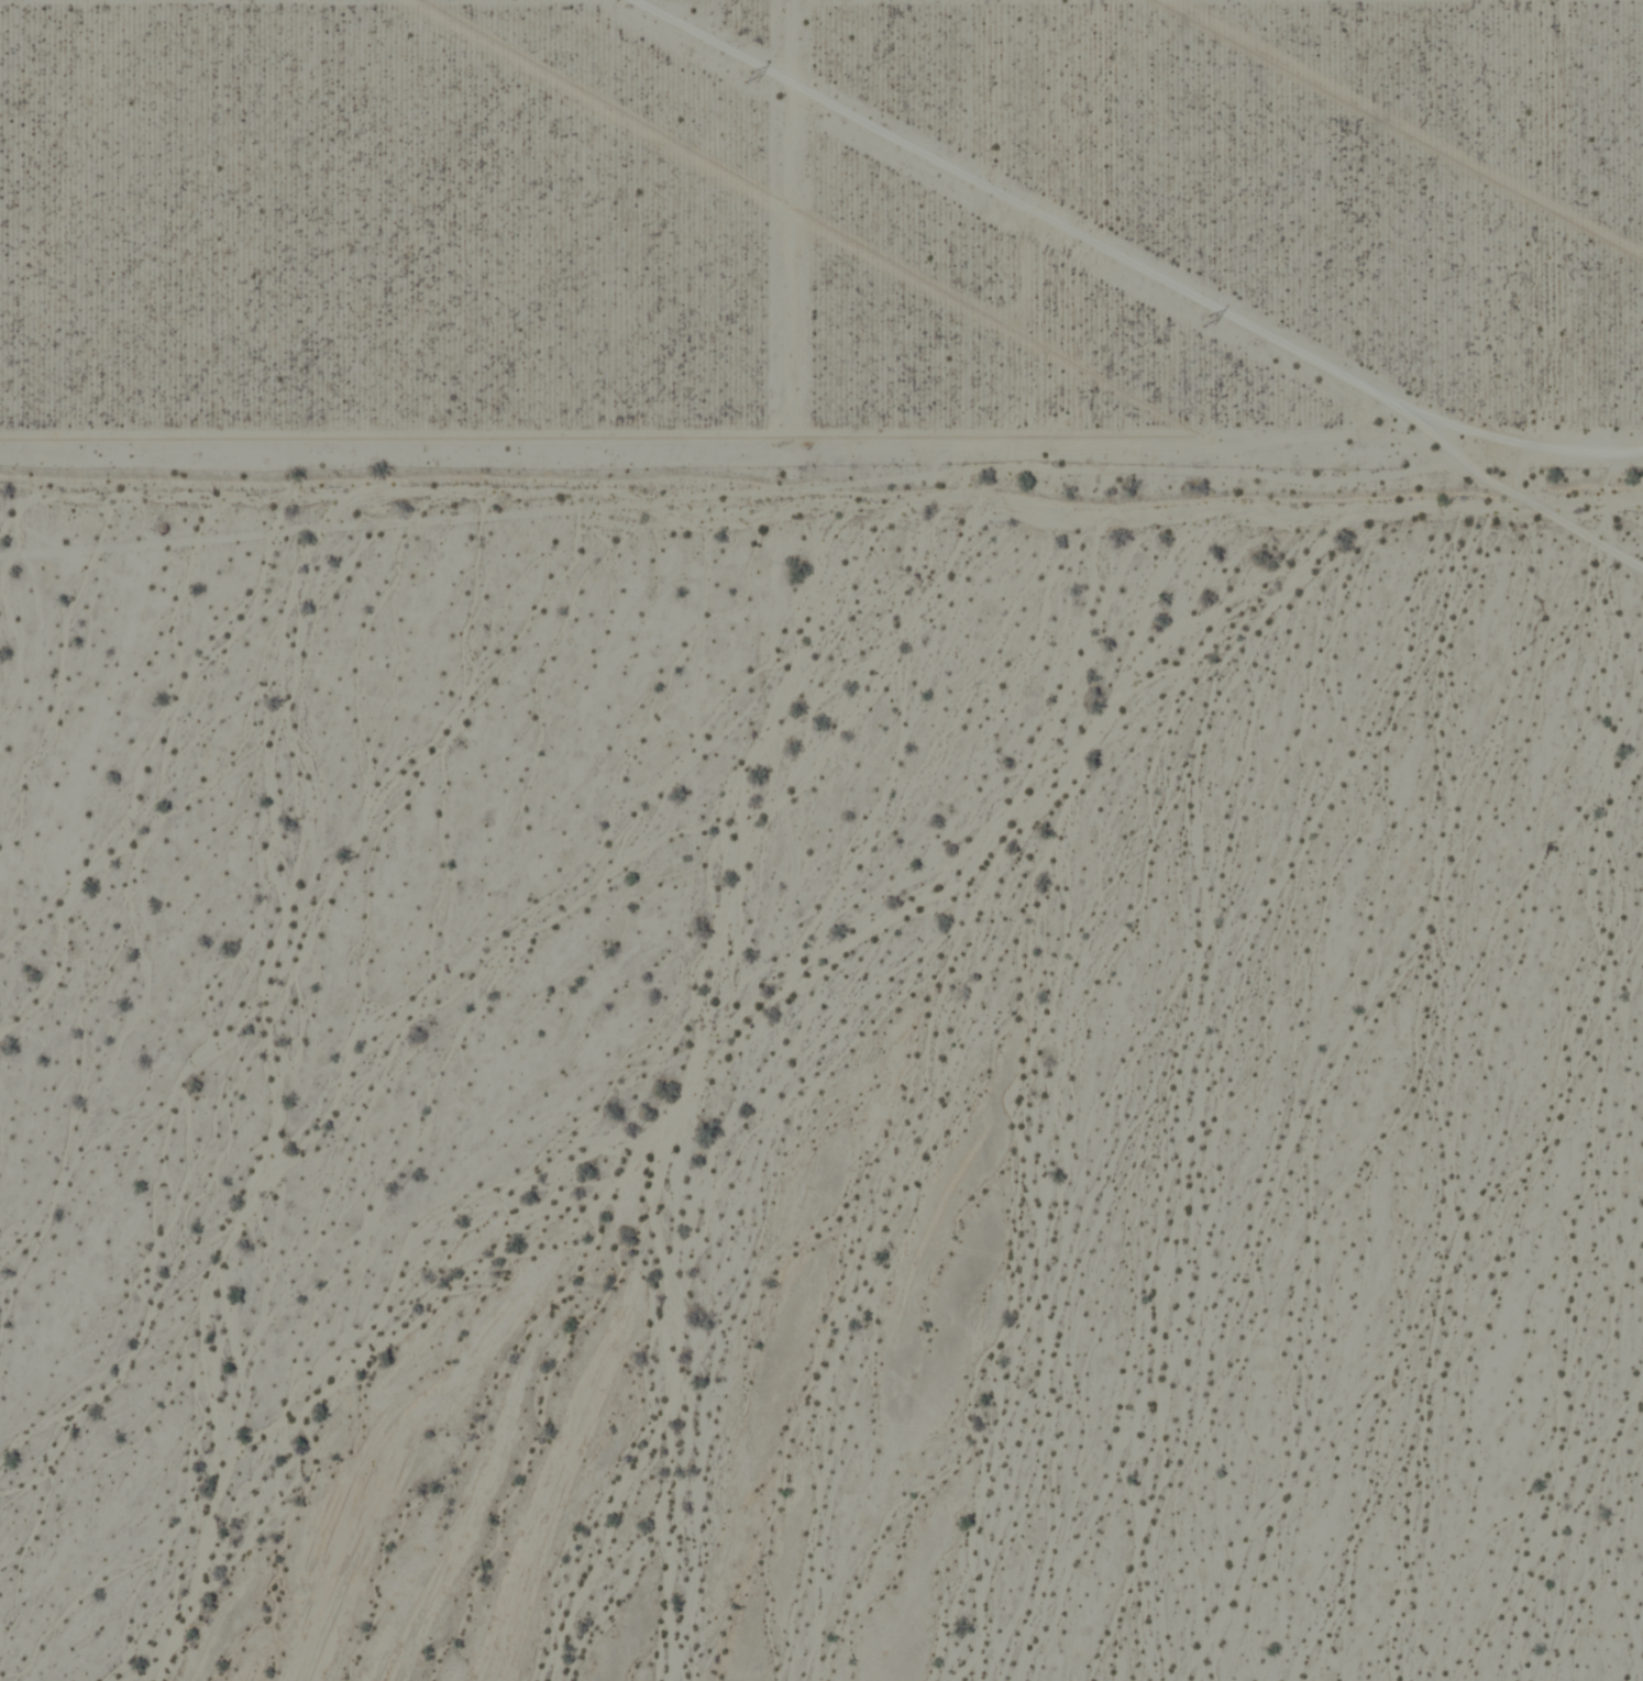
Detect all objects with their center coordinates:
power tower: (741, 73)
crop: (819, 220)
power tower: (1208, 320)

